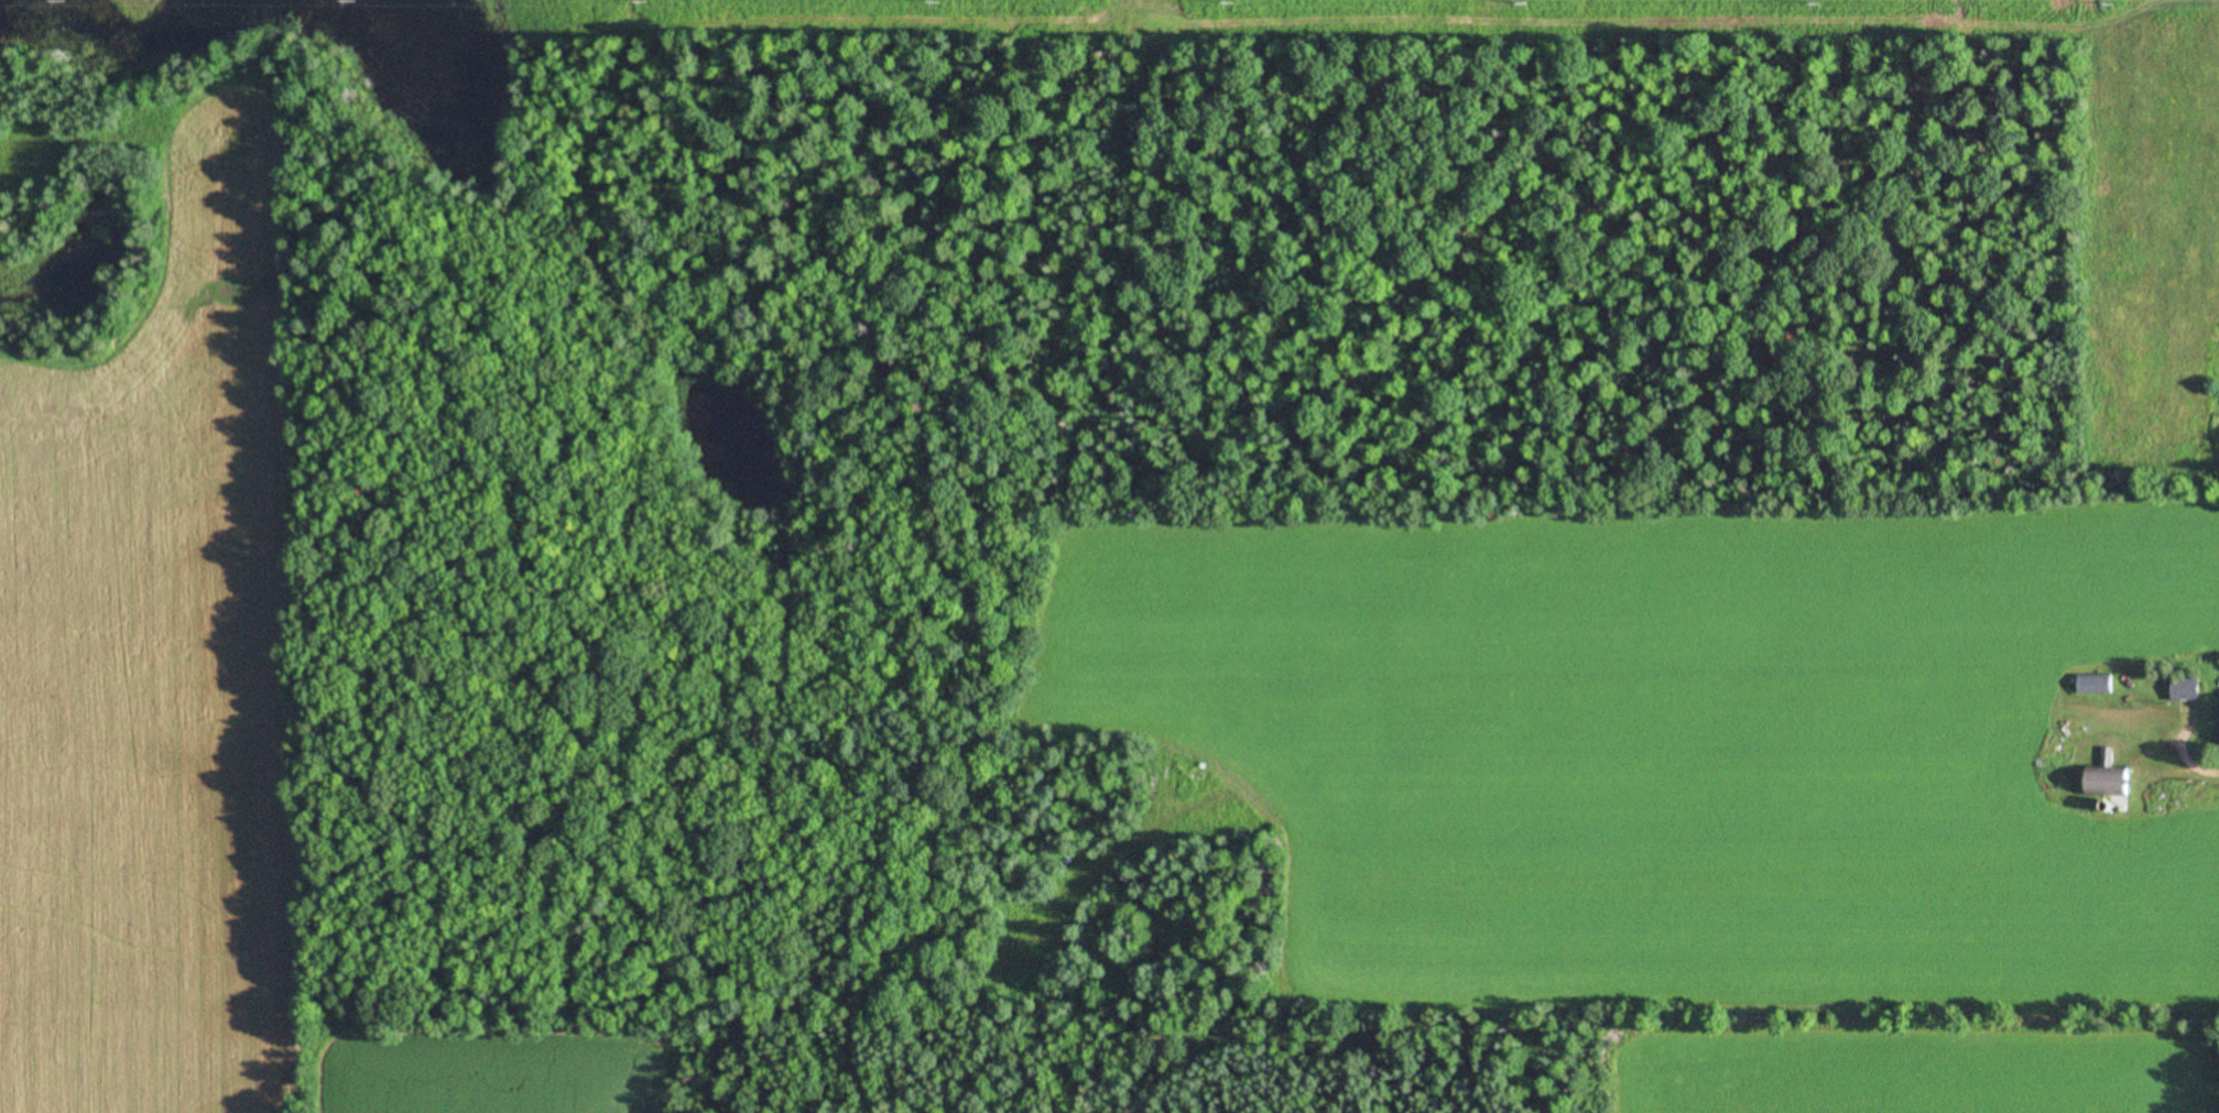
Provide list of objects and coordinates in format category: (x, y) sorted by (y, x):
building: (2097, 684)
building: (2188, 690)
building: (2218, 727)
building: (2112, 784)

